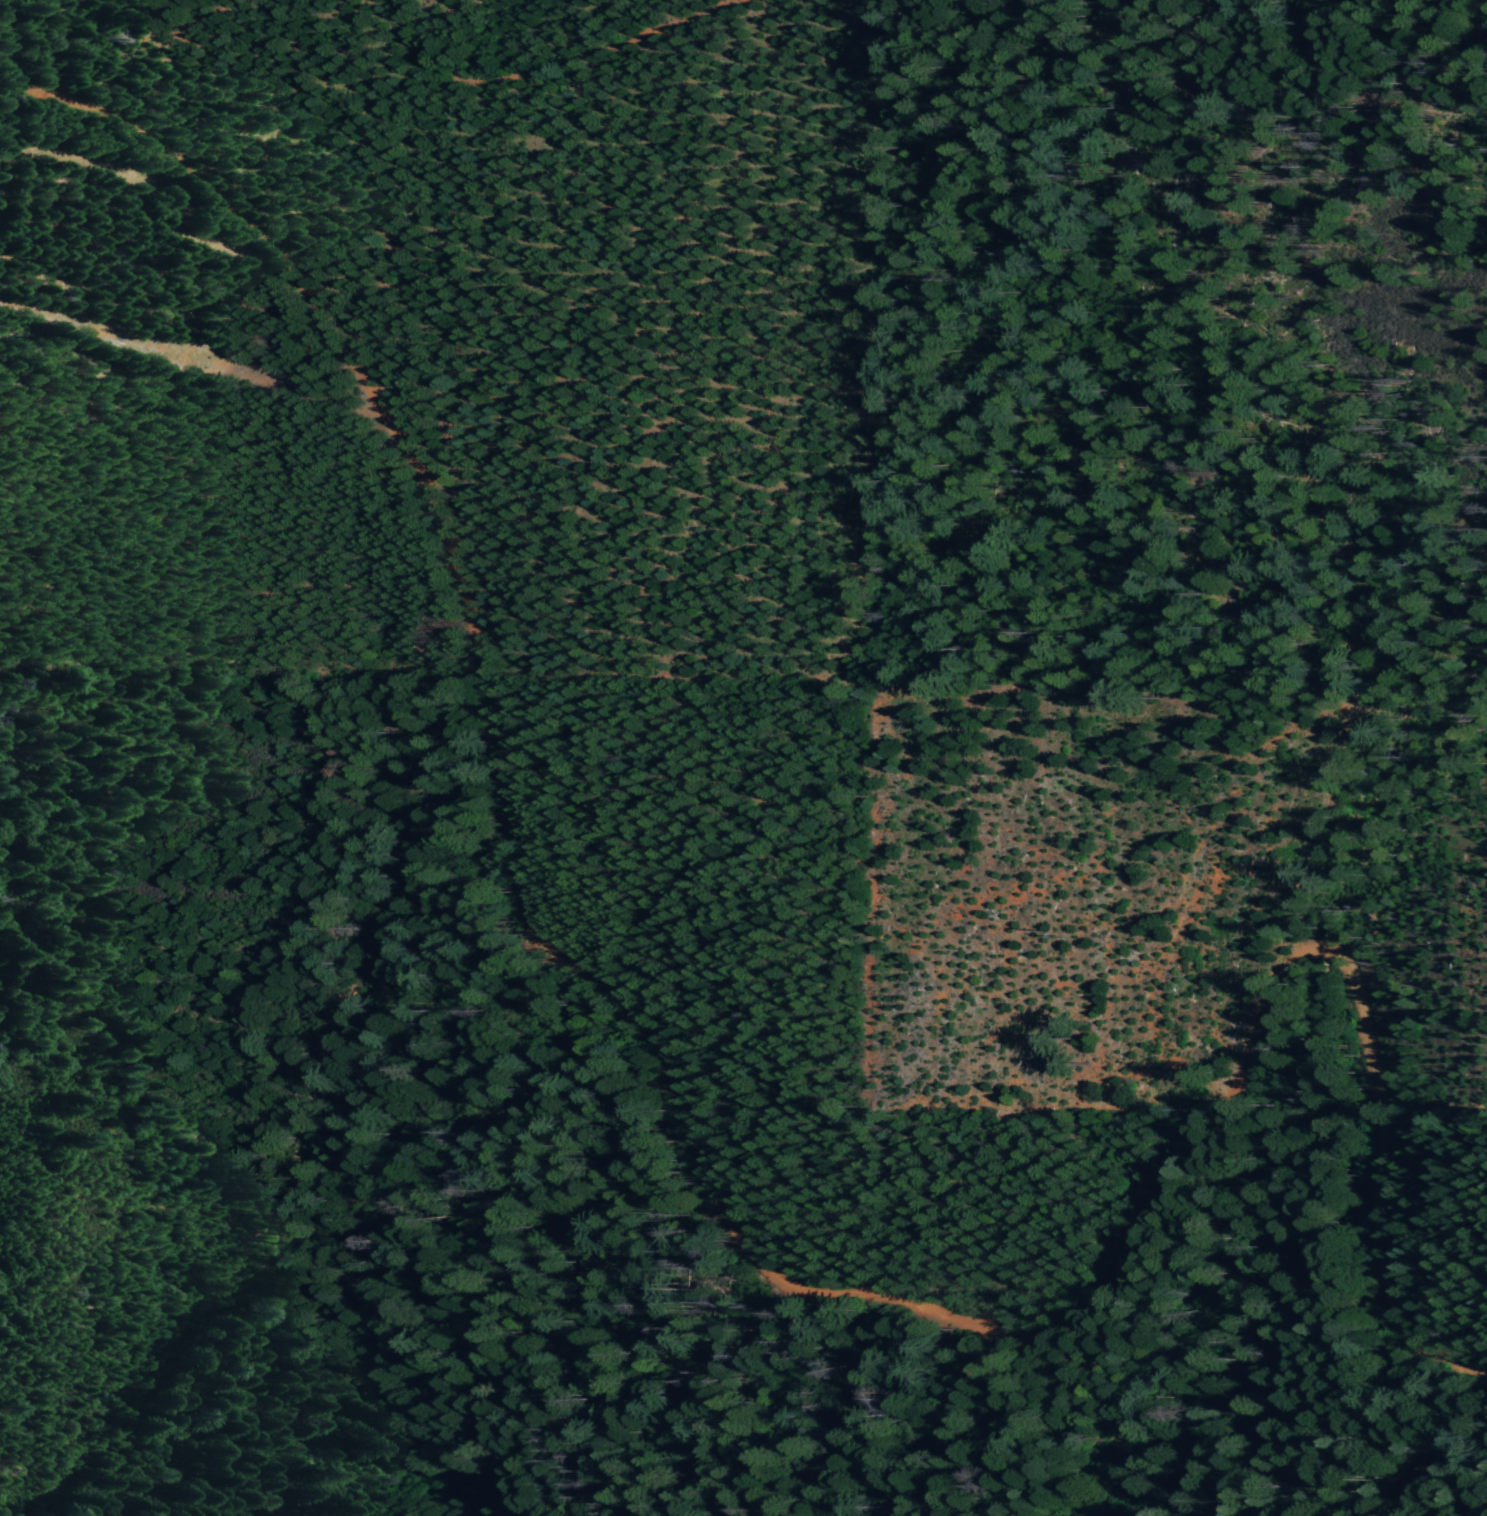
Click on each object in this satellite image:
park: (82, 137)
park: (199, 296)
park: (1183, 343)
road: (682, 1133)

